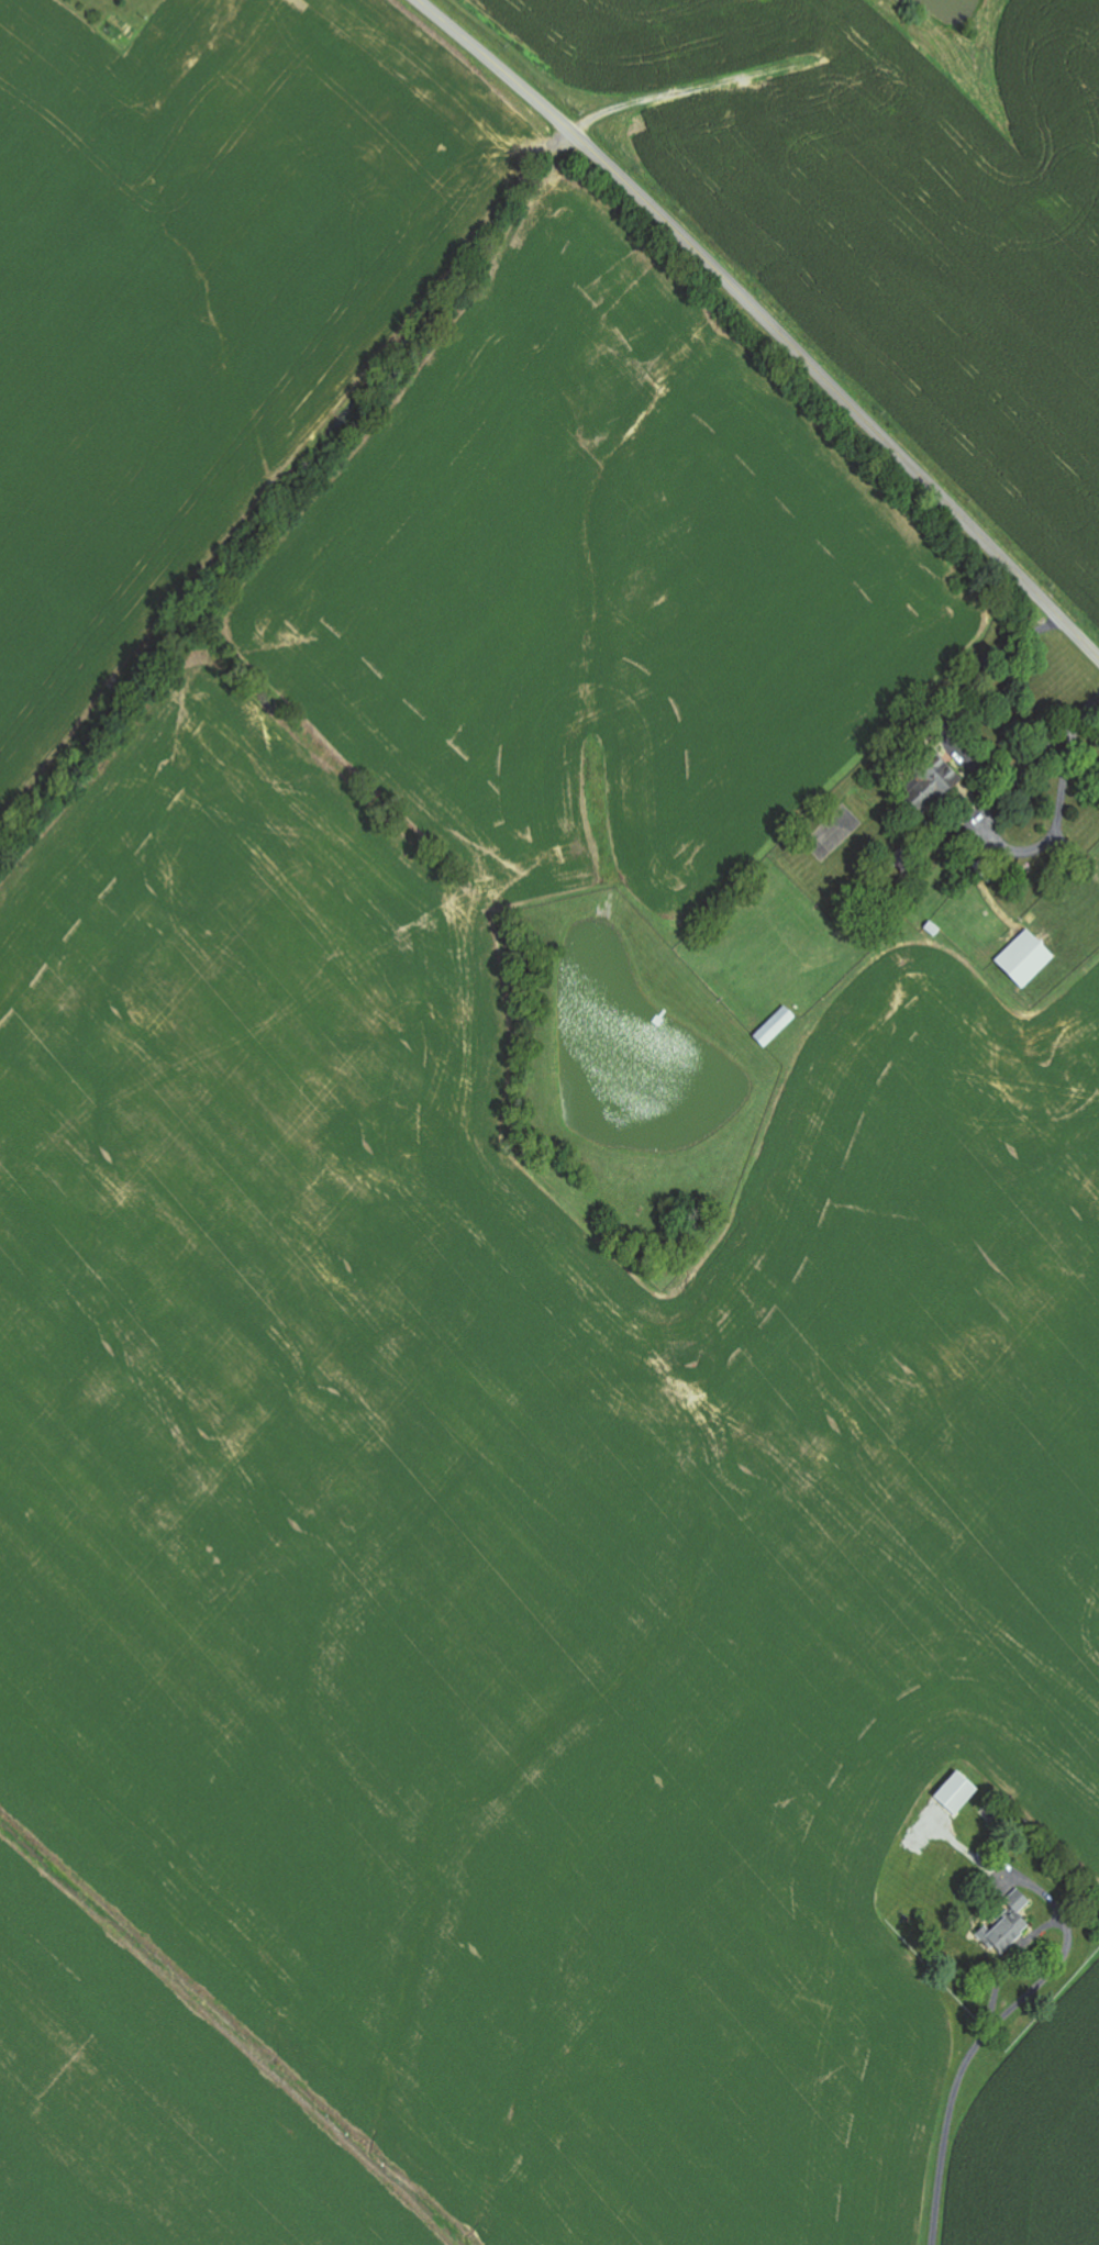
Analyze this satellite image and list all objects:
road: (766, 321)
building: (952, 774)
building: (1029, 958)
building: (961, 1792)
building: (1021, 1900)
building: (1010, 1932)
road: (963, 2070)

